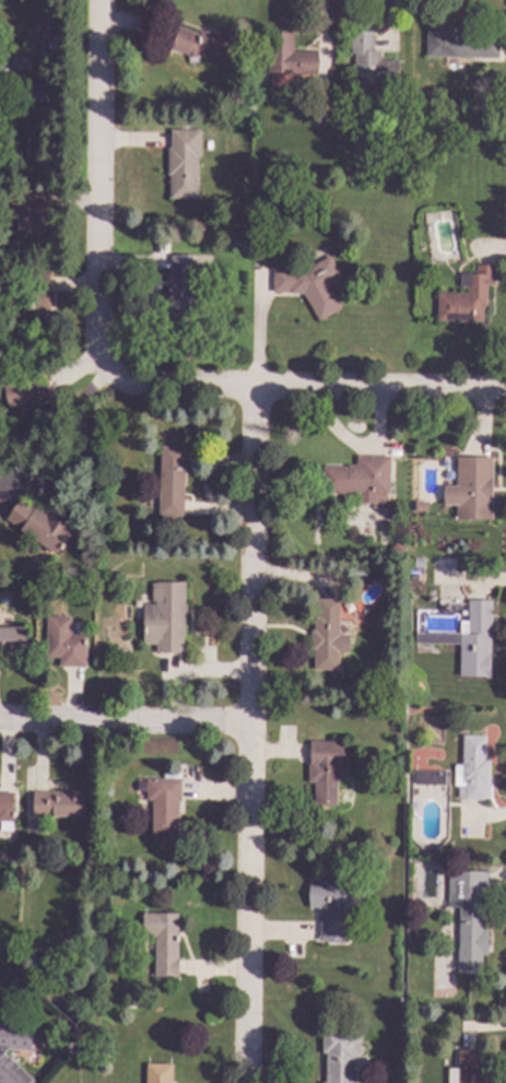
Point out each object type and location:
building: (204, 42)
building: (459, 45)
building: (287, 56)
building: (370, 61)
building: (173, 66)
building: (14, 69)
building: (36, 92)
building: (183, 162)
road: (101, 188)
building: (243, 191)
building: (33, 213)
building: (310, 285)
building: (179, 286)
building: (467, 296)
building: (36, 303)
road: (260, 331)
road: (303, 389)
building: (24, 400)
road: (81, 437)
building: (358, 476)
building: (170, 481)
building: (472, 487)
building: (39, 526)
building: (417, 563)
building: (362, 572)
building: (164, 616)
building: (327, 635)
building: (12, 639)
building: (475, 639)
building: (64, 643)
road: (122, 725)
road: (245, 735)
building: (326, 767)
building: (472, 768)
building: (428, 778)
building: (58, 804)
building: (163, 810)
building: (5, 811)
building: (98, 869)
building: (329, 908)
building: (469, 917)
building: (163, 942)
building: (14, 982)
building: (129, 1004)
building: (1, 1052)
building: (340, 1055)
building: (469, 1068)
building: (157, 1073)
building: (48, 1082)

